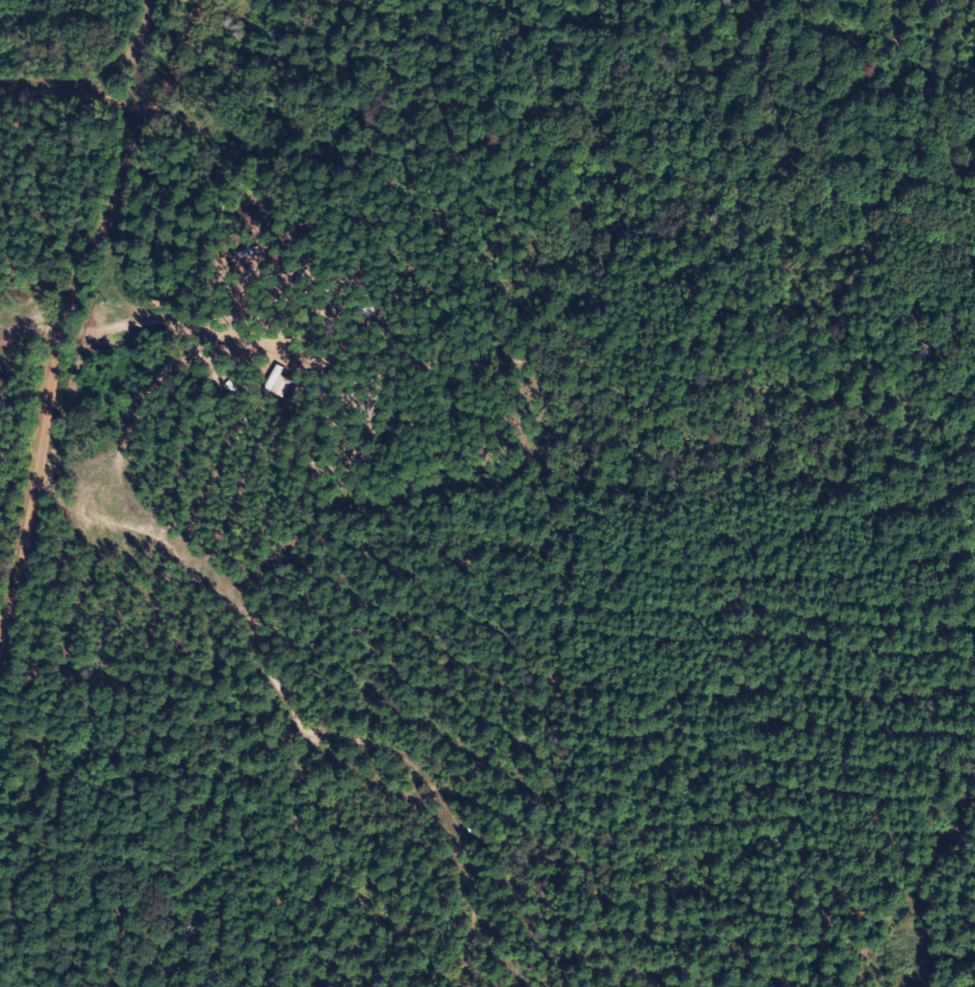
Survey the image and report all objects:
road: (70, 96)
road: (77, 262)

